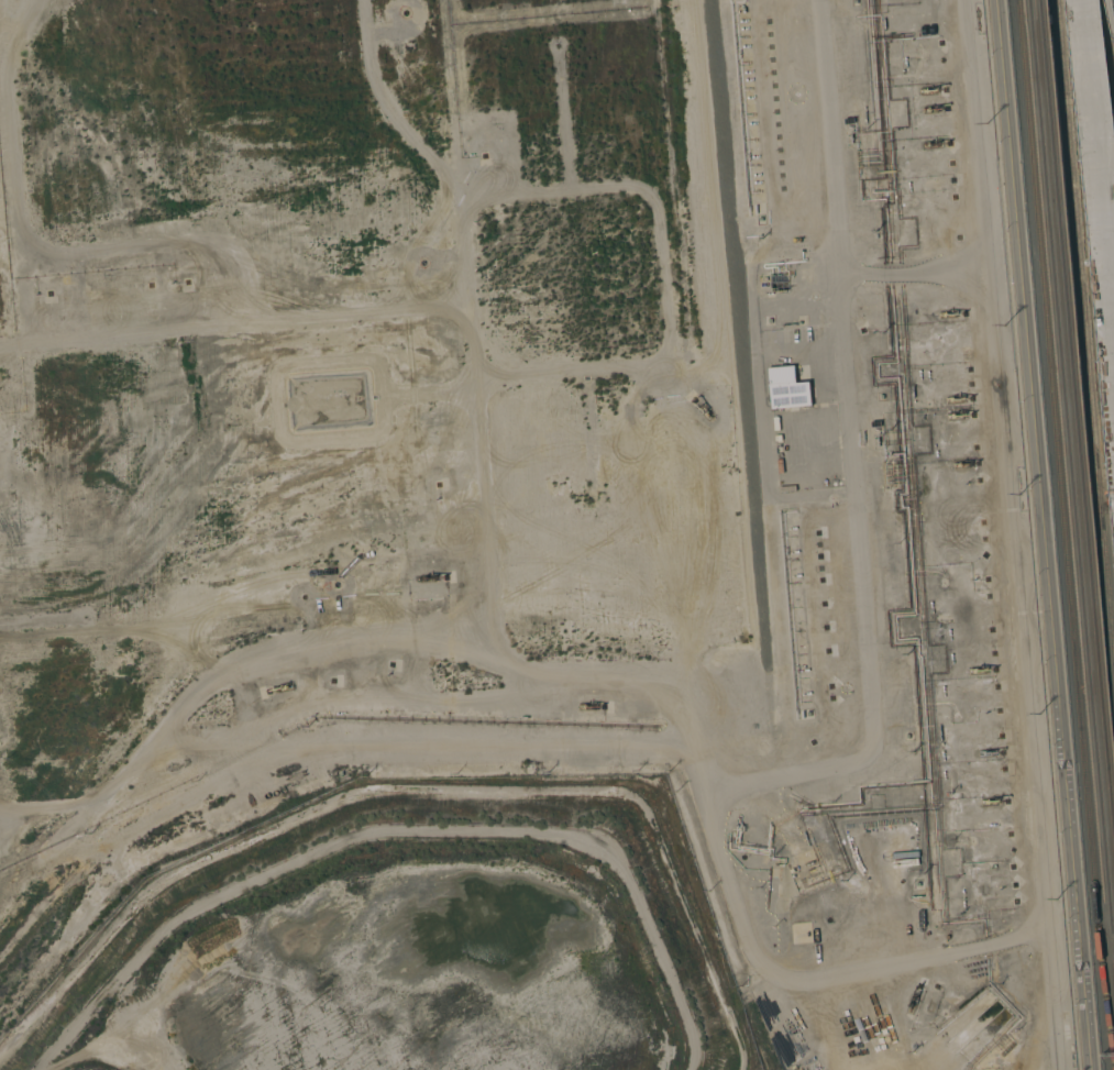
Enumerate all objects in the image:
railway: (1035, 10)
railway: (1045, 10)
road: (1098, 169)
road: (930, 264)
railway: (1085, 320)
building: (787, 388)
petroleum well: (702, 408)
railway: (1081, 417)
railway: (1074, 461)
railway: (1065, 520)
road: (1044, 534)
road: (872, 704)
railway: (1112, 918)
petroleum well: (912, 997)

